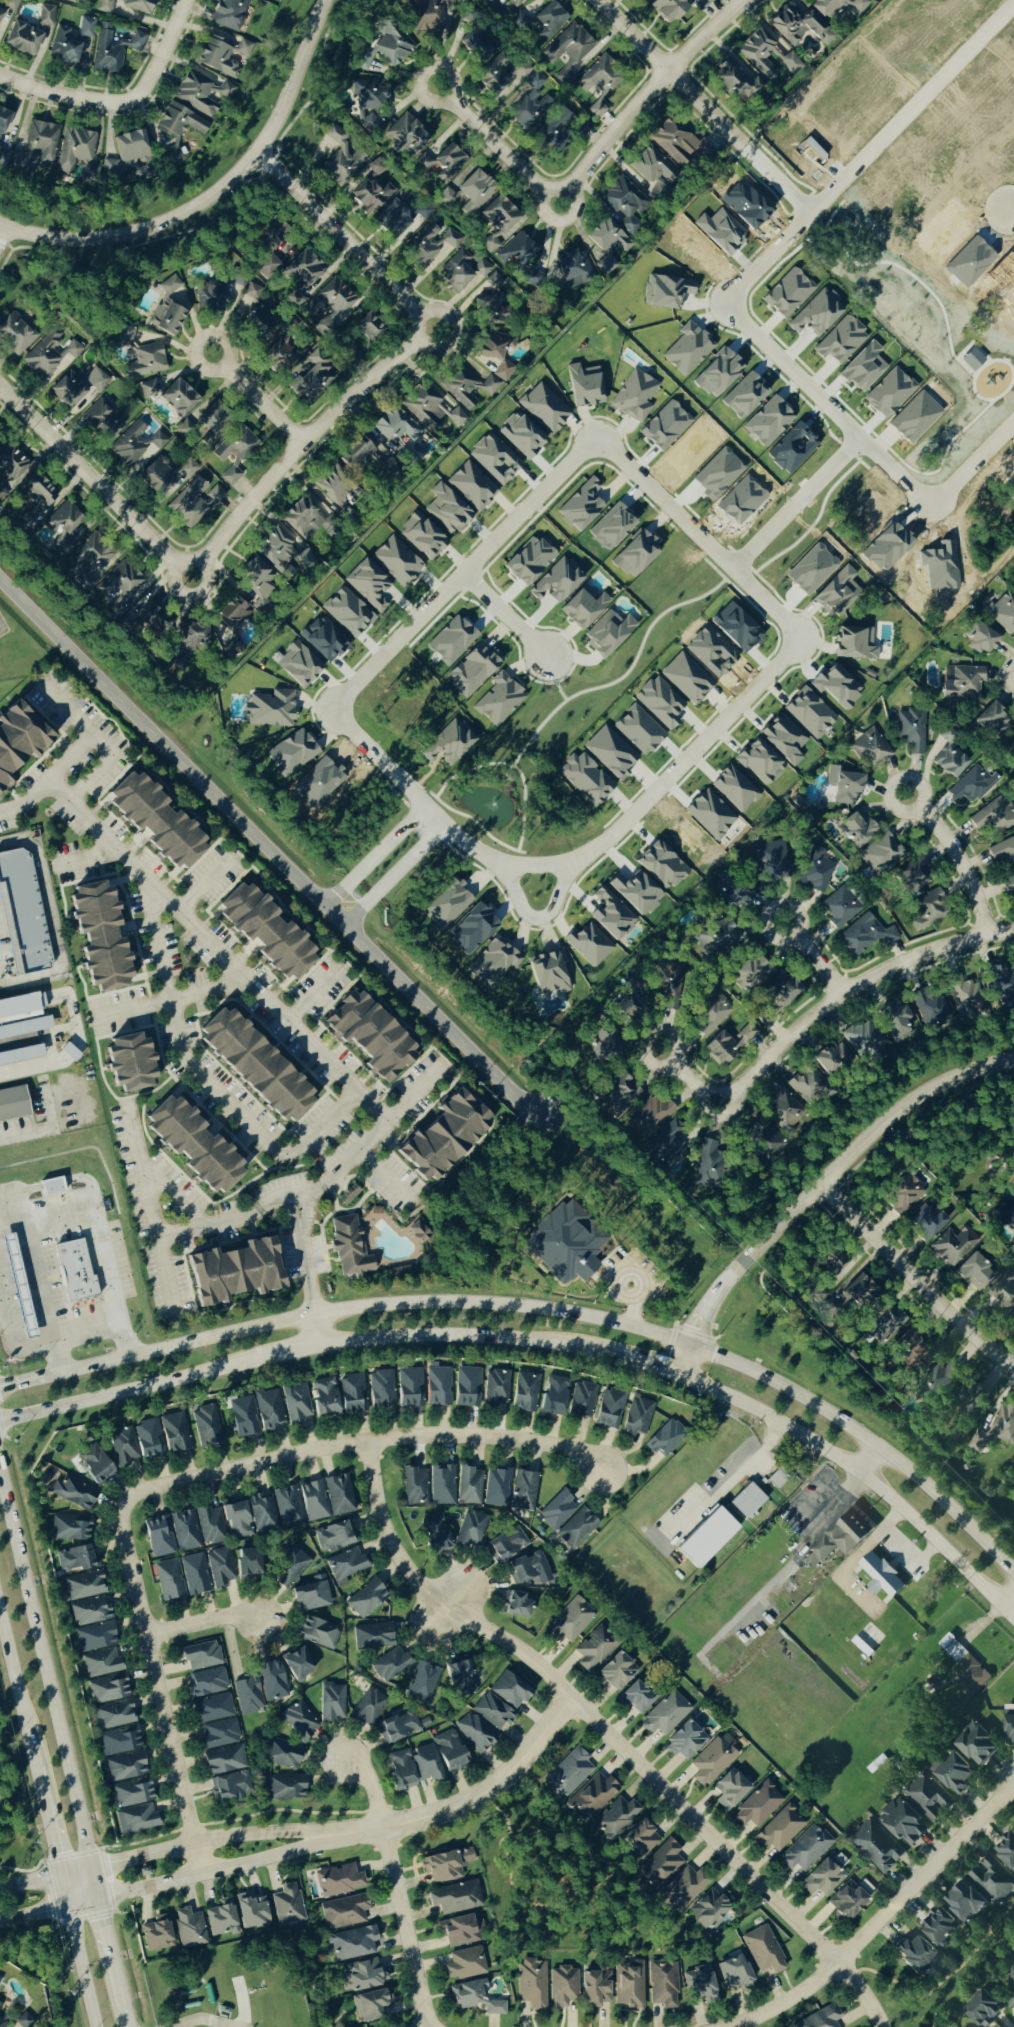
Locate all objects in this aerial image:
building: (68, 0)
building: (268, 0)
building: (644, 0)
building: (515, 2)
building: (10, 4)
building: (702, 4)
building: (105, 6)
building: (669, 9)
building: (1, 12)
building: (229, 14)
building: (46, 15)
building: (431, 16)
building: (545, 22)
building: (796, 25)
building: (22, 39)
building: (476, 43)
building: (569, 45)
building: (384, 47)
building: (113, 49)
building: (222, 52)
building: (766, 54)
building: (499, 73)
building: (564, 75)
building: (599, 82)
building: (735, 82)
road: (646, 91)
building: (203, 93)
building: (367, 101)
road: (120, 102)
building: (532, 105)
road: (702, 105)
building: (3, 120)
building: (174, 129)
building: (553, 133)
building: (406, 136)
road: (493, 140)
building: (678, 143)
building: (74, 149)
road: (866, 152)
building: (339, 159)
building: (441, 162)
building: (653, 171)
building: (467, 192)
road: (214, 194)
building: (367, 196)
road: (230, 201)
road: (573, 202)
building: (625, 204)
road: (541, 209)
road: (1008, 216)
building: (497, 221)
road: (2, 234)
road: (339, 236)
building: (431, 243)
building: (516, 250)
building: (265, 255)
building: (463, 268)
building: (571, 273)
building: (300, 275)
building: (494, 281)
building: (667, 291)
building: (788, 293)
building: (209, 296)
building: (329, 307)
road: (438, 312)
building: (817, 313)
building: (165, 319)
building: (257, 322)
building: (368, 328)
building: (15, 333)
building: (493, 338)
building: (841, 341)
road: (436, 344)
building: (687, 349)
building: (286, 353)
building: (48, 355)
building: (146, 362)
building: (310, 380)
building: (491, 383)
building: (461, 386)
building: (584, 386)
building: (76, 388)
building: (150, 389)
building: (890, 392)
building: (634, 396)
building: (178, 398)
road: (255, 398)
road: (821, 403)
building: (430, 408)
building: (544, 408)
building: (915, 418)
building: (101, 421)
building: (768, 422)
building: (206, 426)
building: (397, 426)
road: (301, 441)
building: (1, 443)
building: (135, 445)
building: (235, 454)
building: (361, 459)
building: (496, 459)
road: (971, 460)
building: (10, 464)
building: (164, 474)
road: (91, 482)
building: (335, 486)
building: (472, 486)
building: (212, 491)
building: (37, 492)
road: (794, 502)
building: (188, 505)
building: (580, 507)
building: (447, 510)
building: (306, 518)
building: (612, 527)
road: (699, 535)
building: (422, 537)
building: (275, 549)
building: (635, 555)
building: (397, 561)
building: (528, 561)
building: (89, 562)
road: (463, 572)
road: (208, 577)
building: (556, 582)
building: (256, 585)
building: (368, 585)
building: (116, 588)
road: (177, 588)
building: (837, 592)
building: (584, 607)
road: (506, 613)
building: (1003, 613)
building: (151, 619)
building: (230, 627)
building: (608, 633)
building: (980, 639)
building: (855, 644)
building: (184, 650)
building: (298, 665)
building: (472, 670)
road: (628, 672)
road: (554, 678)
building: (687, 679)
building: (963, 683)
building: (499, 700)
building: (660, 703)
building: (271, 709)
building: (809, 713)
road: (75, 718)
building: (991, 720)
building: (638, 731)
building: (912, 731)
building: (18, 739)
building: (784, 739)
building: (449, 744)
building: (869, 748)
building: (1010, 748)
building: (295, 752)
building: (610, 753)
building: (951, 760)
building: (760, 763)
road: (511, 767)
road: (676, 768)
road: (49, 779)
building: (586, 779)
road: (91, 781)
building: (973, 785)
building: (843, 788)
building: (735, 789)
road: (426, 804)
building: (994, 816)
building: (155, 822)
road: (475, 824)
building: (857, 829)
road: (267, 848)
building: (1004, 854)
road: (377, 855)
building: (881, 855)
road: (85, 858)
road: (956, 858)
building: (772, 863)
building: (662, 866)
road: (393, 871)
building: (815, 871)
building: (913, 878)
road: (204, 882)
building: (1009, 884)
road: (559, 892)
road: (514, 893)
building: (636, 893)
building: (737, 898)
building: (448, 903)
building: (840, 907)
building: (928, 911)
building: (22, 913)
building: (611, 915)
road: (50, 920)
building: (472, 929)
building: (266, 933)
building: (864, 936)
building: (98, 938)
building: (719, 938)
building: (589, 945)
road: (216, 952)
road: (812, 957)
building: (495, 961)
building: (547, 973)
building: (754, 974)
building: (670, 976)
building: (998, 984)
road: (315, 993)
building: (963, 995)
building: (777, 998)
road: (171, 1001)
building: (19, 1006)
building: (625, 1009)
building: (931, 1009)
road: (816, 1013)
building: (710, 1014)
building: (896, 1021)
building: (25, 1028)
road: (76, 1029)
building: (370, 1037)
road: (36, 1038)
building: (730, 1042)
building: (865, 1042)
building: (603, 1047)
building: (21, 1056)
building: (832, 1059)
building: (128, 1064)
building: (254, 1068)
road: (205, 1081)
building: (808, 1086)
building: (13, 1101)
road: (48, 1104)
building: (782, 1111)
building: (651, 1118)
road: (374, 1132)
road: (27, 1134)
road: (893, 1135)
building: (441, 1138)
building: (768, 1142)
building: (192, 1146)
building: (665, 1149)
building: (706, 1164)
road: (387, 1176)
building: (52, 1186)
road: (815, 1187)
road: (294, 1194)
road: (854, 1194)
building: (904, 1194)
building: (348, 1195)
road: (178, 1197)
road: (150, 1209)
building: (927, 1221)
road: (225, 1222)
road: (299, 1229)
building: (417, 1236)
road: (99, 1237)
building: (565, 1245)
building: (349, 1247)
building: (951, 1247)
building: (831, 1268)
building: (75, 1269)
building: (400, 1272)
building: (234, 1273)
road: (306, 1273)
building: (974, 1273)
road: (913, 1278)
building: (18, 1285)
building: (859, 1294)
building: (1003, 1296)
road: (44, 1298)
road: (561, 1317)
building: (882, 1323)
road: (315, 1332)
traffic signals: (688, 1347)
road: (34, 1348)
building: (908, 1350)
road: (288, 1354)
traffic signals: (679, 1377)
building: (939, 1382)
road: (18, 1385)
building: (437, 1386)
road: (703, 1387)
building: (466, 1388)
traffic signals: (0, 1389)
building: (409, 1389)
road: (129, 1390)
building: (381, 1390)
building: (496, 1391)
building: (525, 1392)
building: (353, 1394)
building: (553, 1397)
building: (324, 1399)
building: (582, 1400)
building: (974, 1404)
building: (296, 1405)
building: (609, 1409)
building: (268, 1410)
building: (244, 1417)
building: (637, 1417)
building: (206, 1427)
building: (997, 1428)
building: (174, 1433)
building: (666, 1439)
building: (148, 1440)
road: (365, 1443)
building: (121, 1448)
building: (95, 1466)
road: (873, 1468)
road: (732, 1474)
building: (441, 1483)
building: (415, 1486)
building: (469, 1486)
building: (496, 1488)
building: (522, 1490)
building: (71, 1493)
building: (338, 1495)
building: (314, 1501)
building: (747, 1501)
building: (288, 1507)
building: (557, 1510)
building: (262, 1513)
building: (236, 1519)
building: (209, 1525)
building: (70, 1527)
building: (577, 1529)
building: (172, 1533)
building: (454, 1533)
building: (334, 1537)
building: (707, 1537)
building: (837, 1540)
building: (506, 1544)
building: (74, 1559)
building: (232, 1566)
building: (345, 1566)
building: (290, 1567)
building: (526, 1567)
road: (786, 1568)
building: (195, 1574)
building: (881, 1576)
building: (169, 1580)
building: (540, 1580)
building: (80, 1586)
building: (312, 1594)
building: (367, 1598)
building: (516, 1605)
road: (1007, 1605)
road: (450, 1611)
building: (90, 1612)
building: (571, 1621)
road: (203, 1623)
building: (318, 1633)
building: (372, 1636)
building: (95, 1637)
building: (595, 1648)
building: (201, 1656)
building: (101, 1664)
building: (297, 1664)
building: (390, 1664)
building: (617, 1671)
building: (460, 1677)
building: (969, 1677)
building: (272, 1680)
building: (208, 1682)
building: (422, 1682)
road: (154, 1684)
building: (107, 1690)
building: (510, 1690)
road: (45, 1695)
building: (248, 1696)
building: (638, 1696)
building: (332, 1702)
building: (213, 1708)
building: (367, 1708)
road: (21, 1711)
building: (492, 1711)
building: (113, 1715)
building: (665, 1715)
building: (300, 1721)
building: (397, 1726)
building: (1009, 1728)
building: (475, 1732)
building: (219, 1734)
road: (614, 1737)
building: (119, 1741)
building: (685, 1741)
building: (977, 1744)
building: (450, 1751)
building: (283, 1754)
building: (713, 1759)
building: (224, 1760)
building: (125, 1767)
building: (412, 1767)
building: (568, 1773)
building: (953, 1774)
building: (230, 1786)
building: (285, 1787)
building: (730, 1789)
building: (132, 1793)
building: (592, 1797)
building: (927, 1798)
road: (475, 1799)
building: (758, 1806)
building: (618, 1816)
building: (135, 1819)
building: (903, 1823)
building: (780, 1830)
road: (210, 1837)
road: (52, 1839)
building: (641, 1839)
building: (876, 1847)
building: (806, 1849)
building: (1006, 1851)
building: (446, 1865)
building: (659, 1865)
traffic signals: (83, 1866)
traffic signals: (61, 1873)
road: (205, 1873)
park: (550, 1873)
road: (41, 1877)
building: (823, 1878)
building: (338, 1881)
building: (991, 1882)
building: (682, 1888)
road: (395, 1891)
building: (455, 1898)
traffic signals: (92, 1901)
building: (847, 1901)
building: (964, 1902)
building: (288, 1905)
traffic signals: (68, 1906)
building: (710, 1909)
building: (251, 1911)
building: (344, 1912)
road: (34, 1913)
building: (221, 1919)
road: (878, 1926)
building: (189, 1927)
building: (939, 1927)
road: (99, 1931)
building: (460, 1931)
building: (157, 1934)
building: (352, 1944)
road: (78, 1950)
building: (764, 1950)
building: (915, 1954)
building: (465, 1964)
building: (735, 1973)
building: (364, 1975)
building: (532, 1983)
building: (663, 1984)
building: (700, 1984)
building: (629, 1985)
building: (563, 1987)
building: (595, 1989)
building: (1011, 1989)
building: (468, 1993)
road: (113, 1994)
building: (0, 2005)
building: (372, 2005)
building: (495, 2008)
building: (985, 2008)
building: (824, 2017)
building: (24, 2020)
road: (202, 2020)
building: (2, 2023)

